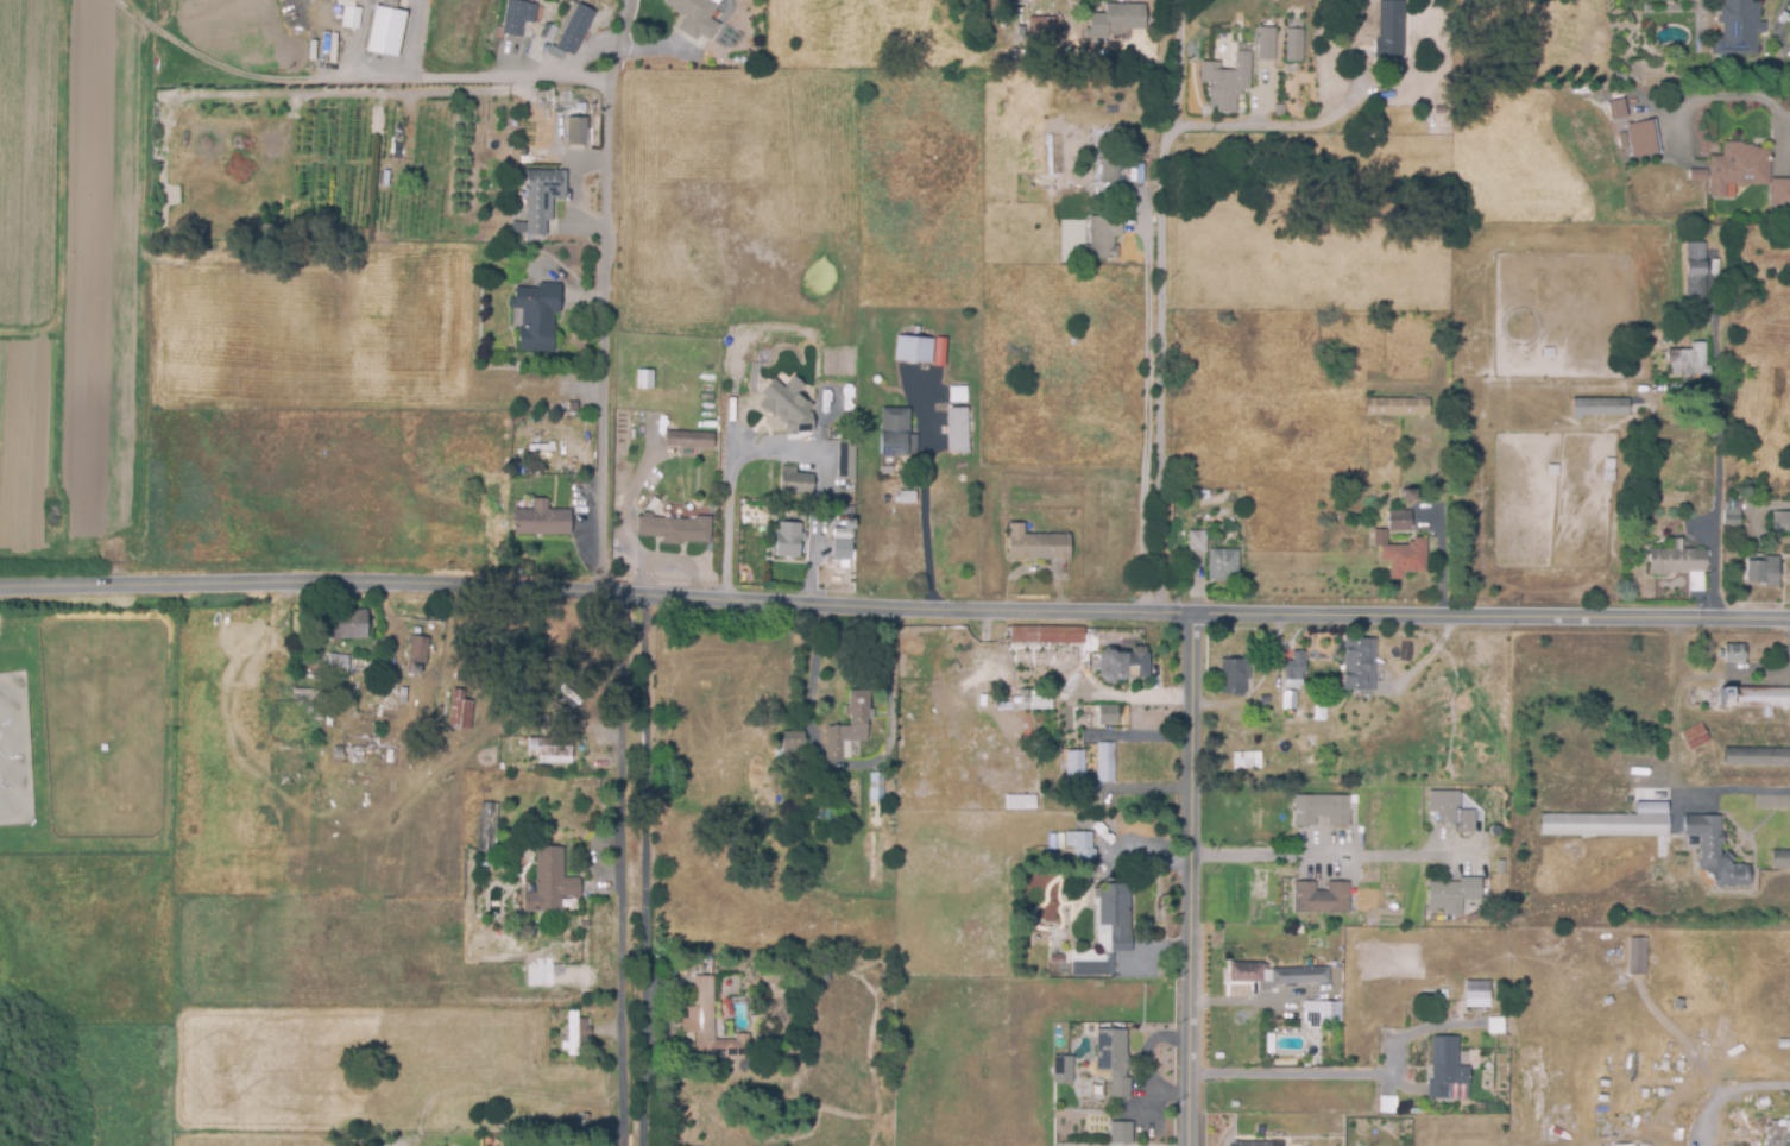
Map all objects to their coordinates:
building: (353, 0)
building: (1139, 0)
building: (519, 14)
building: (694, 18)
building: (349, 19)
building: (1114, 21)
building: (1045, 27)
building: (1735, 29)
building: (386, 31)
building: (1388, 31)
building: (563, 34)
building: (729, 36)
building: (1265, 45)
building: (1292, 46)
building: (332, 50)
building: (1013, 57)
building: (1023, 57)
building: (1479, 67)
road: (481, 76)
building: (1619, 78)
building: (1228, 84)
building: (574, 93)
building: (1616, 108)
building: (575, 126)
road: (1282, 126)
building: (1641, 138)
building: (1439, 139)
building: (1737, 169)
building: (1108, 170)
building: (1702, 176)
building: (384, 180)
building: (1779, 193)
building: (538, 201)
building: (1102, 238)
building: (1694, 275)
road: (604, 295)
road: (1164, 306)
building: (535, 317)
building: (1072, 336)
building: (1665, 340)
building: (912, 351)
building: (1689, 363)
building: (1016, 365)
building: (643, 380)
building: (1395, 408)
building: (1597, 408)
building: (561, 409)
building: (552, 410)
road: (1145, 411)
building: (786, 417)
building: (1369, 422)
building: (956, 432)
building: (895, 435)
building: (687, 441)
building: (844, 461)
building: (541, 470)
building: (885, 472)
building: (793, 481)
road: (731, 489)
building: (1407, 496)
building: (906, 498)
building: (650, 505)
road: (924, 506)
building: (1462, 510)
building: (1729, 520)
building: (540, 521)
building: (1398, 522)
building: (1780, 522)
building: (846, 524)
building: (674, 530)
building: (840, 535)
building: (1378, 539)
building: (788, 541)
building: (1196, 542)
building: (1034, 546)
building: (840, 552)
building: (1404, 559)
building: (1674, 561)
building: (1221, 565)
building: (1760, 571)
road: (595, 593)
building: (303, 611)
road: (1490, 613)
building: (345, 626)
building: (1045, 636)
building: (1733, 654)
building: (417, 655)
building: (1121, 665)
building: (1357, 666)
building: (336, 667)
building: (1294, 669)
building: (1231, 676)
building: (377, 698)
building: (1753, 698)
building: (1038, 700)
building: (1260, 700)
building: (1288, 701)
building: (1273, 703)
building: (460, 710)
building: (1766, 713)
building: (1107, 716)
building: (543, 722)
building: (1287, 724)
building: (849, 726)
building: (1693, 737)
building: (792, 747)
building: (548, 753)
building: (1305, 754)
building: (338, 757)
building: (1757, 758)
building: (1248, 760)
building: (1104, 763)
road: (849, 764)
building: (1072, 768)
building: (1088, 773)
road: (1732, 789)
building: (876, 795)
building: (1017, 801)
building: (1321, 811)
building: (1450, 811)
building: (487, 821)
building: (874, 824)
building: (1602, 826)
building: (900, 836)
building: (1079, 849)
building: (1712, 852)
road: (1329, 855)
building: (1779, 859)
building: (1500, 868)
road: (619, 870)
road: (644, 870)
road: (1190, 880)
building: (548, 883)
building: (1452, 895)
building: (1319, 899)
building: (1109, 927)
building: (1296, 930)
building: (1637, 957)
building: (1067, 959)
building: (1054, 961)
building: (708, 963)
building: (697, 964)
building: (815, 972)
building: (1246, 974)
building: (826, 976)
building: (1299, 977)
building: (1476, 1000)
building: (1318, 1014)
building: (707, 1026)
building: (725, 1029)
building: (575, 1038)
building: (801, 1057)
building: (1113, 1062)
building: (784, 1063)
building: (1060, 1071)
road: (1293, 1075)
building: (1445, 1077)
road: (1728, 1094)
building: (1382, 1106)
building: (1479, 1109)
building: (1417, 1113)
building: (1120, 1134)
building: (1274, 1144)
building: (1247, 1145)

